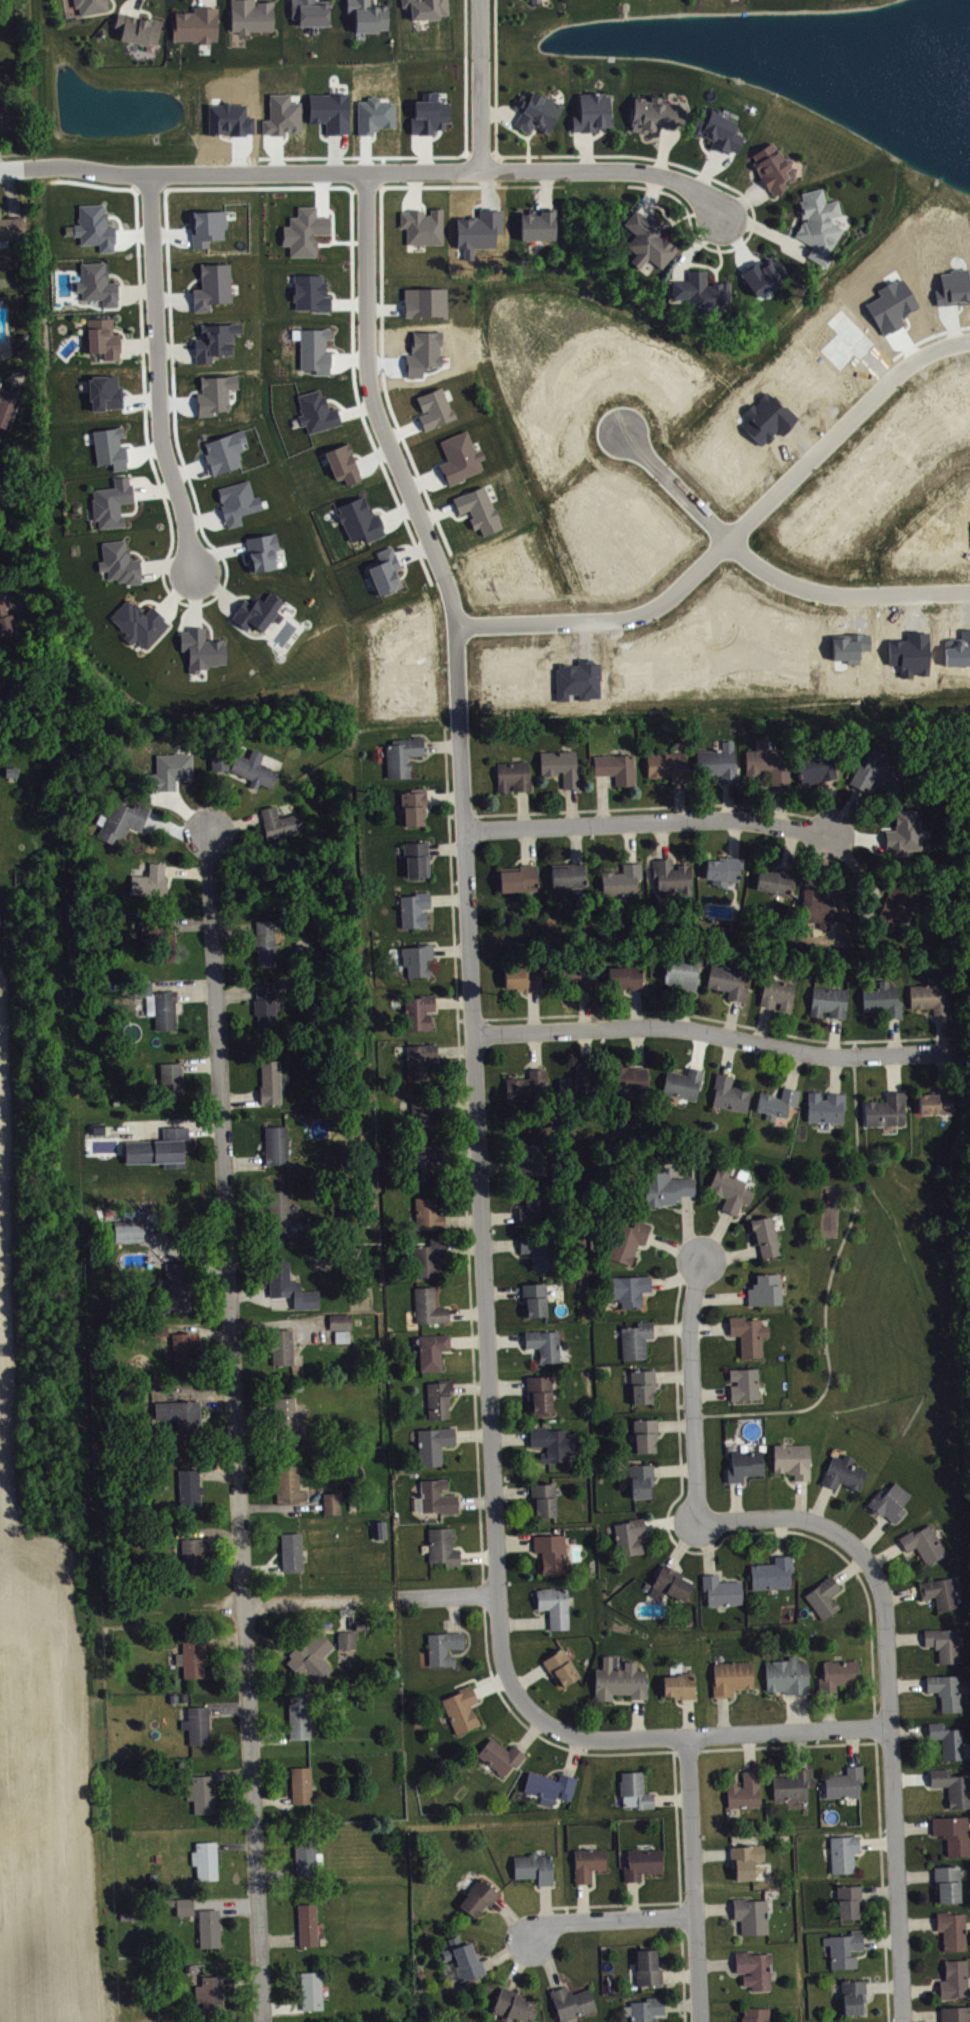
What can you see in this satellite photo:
building: (533, 0)
road: (255, 2)
road: (375, 2)
building: (538, 2)
road: (204, 3)
building: (89, 5)
road: (192, 5)
road: (134, 7)
building: (425, 7)
road: (144, 9)
building: (73, 10)
building: (309, 11)
building: (251, 15)
building: (368, 15)
building: (195, 23)
building: (137, 27)
road: (465, 27)
road: (481, 84)
building: (536, 110)
road: (499, 111)
building: (592, 111)
building: (654, 113)
building: (334, 114)
building: (423, 116)
building: (11, 118)
building: (286, 118)
building: (717, 129)
road: (517, 130)
road: (595, 134)
road: (650, 138)
road: (703, 146)
road: (587, 149)
road: (663, 149)
road: (13, 152)
road: (528, 152)
road: (649, 156)
road: (11, 167)
building: (773, 167)
road: (707, 169)
road: (380, 170)
road: (752, 177)
road: (535, 185)
road: (343, 186)
road: (546, 188)
road: (415, 189)
road: (10, 191)
road: (651, 194)
road: (743, 200)
road: (423, 204)
road: (537, 204)
road: (662, 209)
road: (685, 215)
road: (381, 223)
building: (538, 223)
building: (818, 224)
road: (791, 225)
building: (423, 226)
building: (12, 227)
road: (764, 229)
building: (98, 230)
building: (210, 230)
building: (308, 234)
building: (648, 239)
road: (694, 244)
road: (718, 244)
road: (705, 264)
road: (119, 277)
building: (767, 279)
building: (96, 283)
building: (212, 285)
road: (135, 290)
building: (701, 291)
building: (305, 293)
road: (172, 297)
building: (425, 299)
road: (399, 301)
road: (345, 302)
road: (385, 308)
road: (140, 309)
road: (122, 331)
road: (929, 335)
building: (102, 337)
building: (214, 340)
road: (137, 342)
building: (0, 353)
building: (318, 353)
road: (157, 371)
building: (218, 396)
building: (8, 408)
building: (432, 409)
building: (314, 414)
road: (175, 423)
road: (405, 442)
building: (107, 444)
road: (393, 454)
building: (228, 455)
building: (456, 460)
road: (153, 489)
building: (235, 501)
building: (111, 502)
road: (135, 507)
road: (381, 508)
road: (397, 511)
building: (477, 511)
road: (438, 513)
building: (359, 517)
road: (408, 529)
road: (734, 533)
building: (260, 551)
road: (139, 554)
building: (119, 562)
road: (166, 564)
road: (163, 566)
building: (382, 571)
road: (770, 573)
road: (215, 585)
road: (177, 591)
road: (242, 595)
road: (195, 596)
road: (150, 599)
building: (258, 610)
building: (6, 617)
building: (138, 622)
road: (208, 623)
building: (201, 647)
building: (5, 685)
road: (441, 743)
building: (401, 753)
building: (219, 759)
building: (772, 764)
building: (721, 765)
building: (224, 766)
building: (253, 767)
building: (670, 769)
building: (564, 770)
building: (620, 770)
building: (819, 772)
building: (880, 777)
building: (516, 779)
building: (120, 795)
road: (444, 795)
road: (217, 800)
building: (413, 803)
road: (462, 812)
road: (496, 812)
building: (121, 819)
road: (647, 820)
building: (278, 821)
road: (235, 824)
road: (176, 828)
building: (907, 836)
road: (446, 846)
building: (416, 856)
road: (187, 869)
building: (726, 874)
building: (572, 878)
building: (150, 879)
building: (674, 880)
building: (521, 882)
building: (626, 883)
building: (777, 884)
road: (452, 887)
road: (448, 897)
building: (901, 906)
building: (413, 907)
road: (193, 923)
road: (234, 927)
building: (161, 937)
building: (264, 941)
road: (451, 949)
building: (416, 956)
building: (684, 977)
building: (625, 979)
building: (525, 982)
building: (582, 982)
road: (183, 984)
building: (731, 984)
road: (236, 994)
building: (780, 997)
road: (453, 1000)
building: (932, 1001)
building: (885, 1002)
building: (158, 1003)
building: (832, 1005)
building: (265, 1006)
building: (418, 1010)
road: (714, 1032)
building: (423, 1063)
building: (170, 1079)
building: (270, 1081)
building: (633, 1082)
building: (581, 1085)
building: (686, 1087)
building: (529, 1089)
building: (732, 1097)
building: (780, 1106)
building: (939, 1106)
building: (828, 1110)
building: (889, 1113)
building: (426, 1120)
building: (275, 1143)
building: (159, 1147)
building: (537, 1163)
building: (428, 1164)
building: (669, 1191)
building: (733, 1192)
building: (539, 1209)
building: (281, 1210)
building: (432, 1217)
road: (481, 1218)
building: (132, 1234)
building: (768, 1239)
building: (631, 1244)
building: (542, 1253)
building: (432, 1260)
road: (829, 1282)
building: (176, 1285)
building: (289, 1285)
building: (633, 1293)
building: (768, 1293)
building: (538, 1303)
building: (432, 1310)
building: (344, 1324)
building: (752, 1338)
building: (345, 1339)
building: (639, 1343)
building: (281, 1345)
building: (547, 1348)
building: (182, 1350)
building: (436, 1354)
building: (747, 1387)
building: (646, 1390)
building: (544, 1398)
building: (442, 1402)
road: (685, 1404)
building: (285, 1415)
building: (181, 1416)
road: (235, 1426)
building: (648, 1439)
building: (556, 1446)
building: (437, 1448)
building: (795, 1463)
building: (748, 1468)
building: (847, 1476)
building: (644, 1484)
building: (288, 1485)
building: (188, 1486)
building: (441, 1500)
building: (331, 1501)
building: (547, 1503)
building: (893, 1505)
building: (379, 1528)
building: (633, 1540)
building: (927, 1547)
building: (291, 1550)
building: (446, 1550)
building: (193, 1555)
building: (555, 1556)
road: (848, 1562)
road: (872, 1568)
building: (775, 1577)
building: (674, 1587)
road: (450, 1594)
building: (724, 1594)
building: (943, 1596)
building: (827, 1600)
road: (295, 1602)
building: (558, 1609)
building: (359, 1625)
building: (345, 1638)
building: (947, 1647)
building: (447, 1651)
building: (308, 1652)
building: (191, 1655)
building: (565, 1671)
building: (842, 1677)
building: (790, 1679)
building: (735, 1680)
building: (622, 1683)
building: (682, 1689)
building: (951, 1694)
building: (183, 1696)
building: (173, 1697)
building: (464, 1712)
crop: (41, 1715)
building: (298, 1715)
building: (196, 1724)
road: (699, 1734)
building: (951, 1744)
building: (504, 1759)
building: (301, 1784)
building: (848, 1786)
building: (794, 1788)
building: (554, 1789)
building: (634, 1789)
road: (654, 1790)
building: (954, 1790)
building: (201, 1792)
building: (747, 1793)
road: (671, 1798)
building: (955, 1837)
road: (710, 1852)
building: (305, 1856)
building: (847, 1856)
building: (205, 1859)
road: (725, 1859)
building: (742, 1860)
building: (588, 1862)
building: (642, 1862)
building: (534, 1866)
building: (153, 1875)
road: (693, 1878)
road: (641, 1881)
road: (594, 1882)
road: (680, 1885)
road: (535, 1886)
building: (951, 1887)
building: (478, 1895)
road: (632, 1897)
road: (583, 1900)
building: (167, 1901)
road: (613, 1903)
building: (183, 1905)
building: (852, 1905)
road: (545, 1906)
road: (714, 1907)
road: (493, 1909)
building: (129, 1914)
building: (751, 1914)
road: (609, 1916)
road: (511, 1918)
building: (307, 1923)
building: (208, 1926)
building: (956, 1934)
road: (506, 1950)
building: (848, 1952)
road: (485, 1953)
building: (464, 1957)
road: (547, 1959)
road: (715, 1961)
road: (518, 1962)
road: (665, 1965)
building: (647, 1966)
building: (754, 1968)
road: (679, 1973)
road: (732, 1974)
road: (563, 1982)
building: (957, 1983)
road: (517, 1984)
building: (310, 1989)
building: (209, 1993)
building: (857, 2000)
building: (571, 2001)
road: (680, 2002)
building: (512, 2005)
building: (646, 2008)
road: (664, 2014)
building: (755, 2014)
building: (957, 2015)

